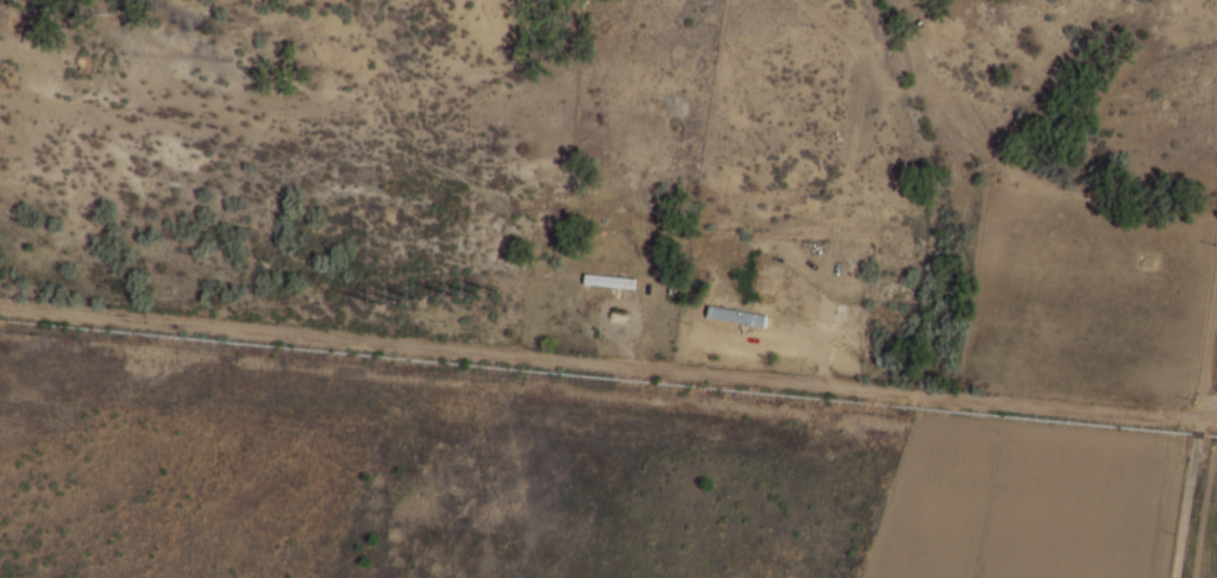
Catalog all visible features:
building: (610, 282)
power tower: (465, 290)
power tower: (396, 303)
building: (738, 316)
road: (608, 367)
road: (1187, 500)

